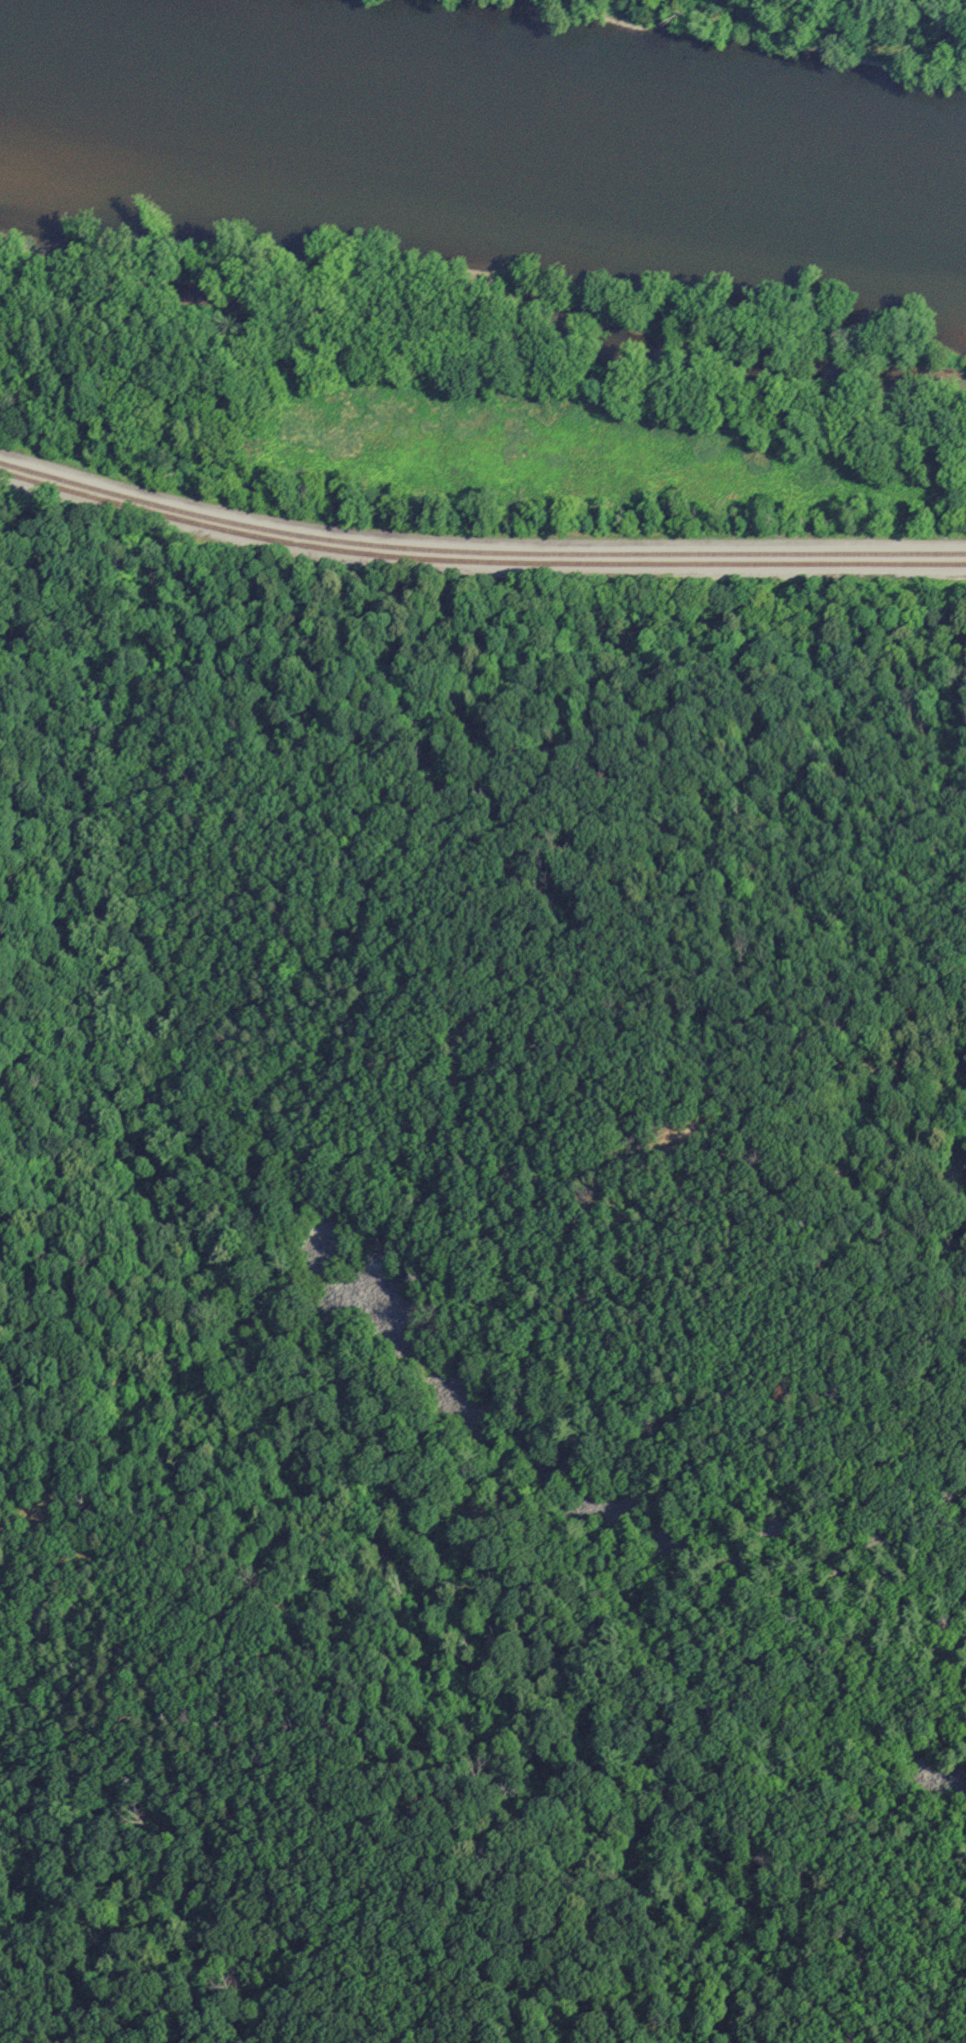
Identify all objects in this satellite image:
road: (915, 9)
river: (484, 130)
road: (478, 540)
railway: (478, 552)
railway: (477, 562)

